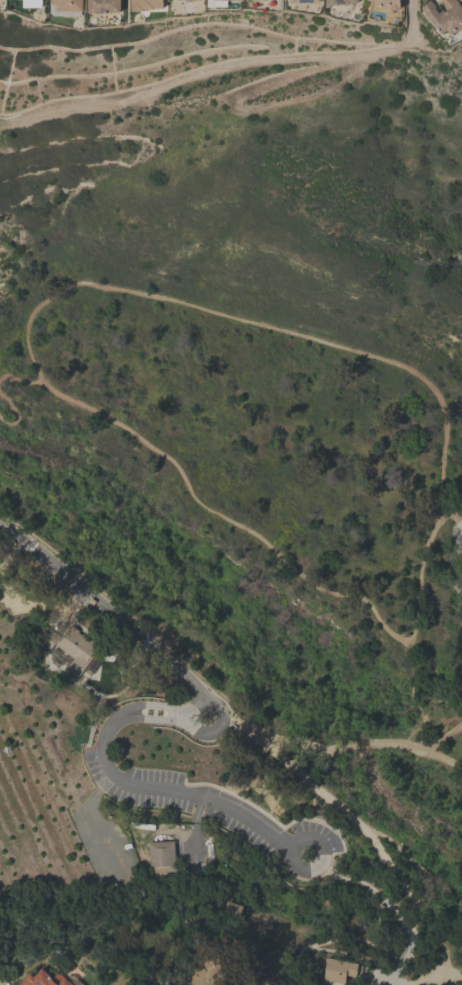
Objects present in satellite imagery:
building: (40, 0)
building: (226, 0)
building: (264, 0)
building: (304, 0)
building: (461, 0)
building: (338, 2)
building: (217, 3)
building: (387, 3)
building: (146, 4)
building: (65, 5)
building: (103, 5)
building: (444, 15)
road: (410, 21)
road: (271, 328)
road: (20, 377)
road: (11, 407)
road: (232, 522)
road: (36, 551)
road: (418, 575)
road: (92, 593)
building: (92, 600)
road: (85, 602)
road: (125, 610)
building: (76, 651)
road: (159, 654)
road: (416, 694)
road: (420, 703)
road: (160, 706)
road: (159, 718)
road: (429, 721)
road: (220, 723)
road: (109, 726)
road: (451, 730)
road: (340, 746)
road: (450, 747)
road: (238, 769)
road: (192, 796)
road: (341, 808)
road: (311, 811)
parking lot: (215, 812)
road: (195, 827)
road: (322, 853)
building: (160, 856)
road: (388, 904)
building: (337, 968)
road: (384, 976)
building: (49, 979)

